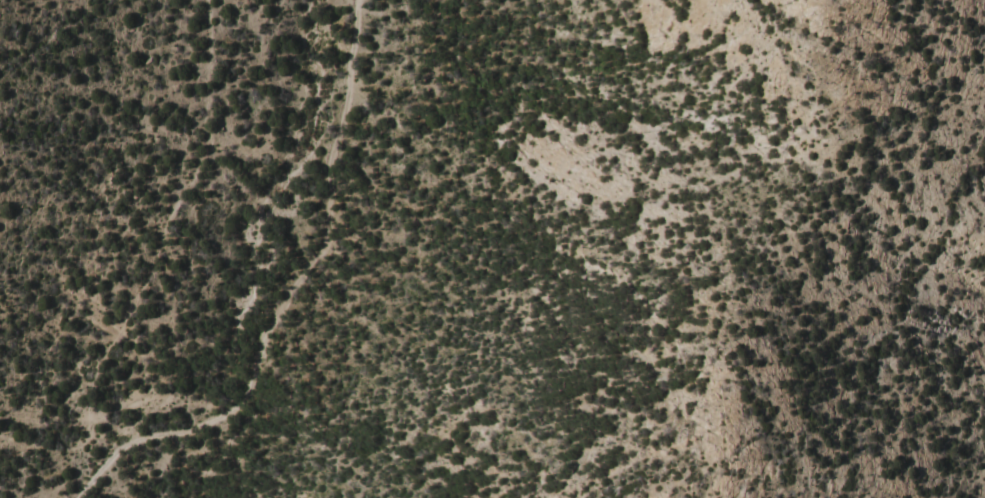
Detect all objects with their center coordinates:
road: (280, 295)

